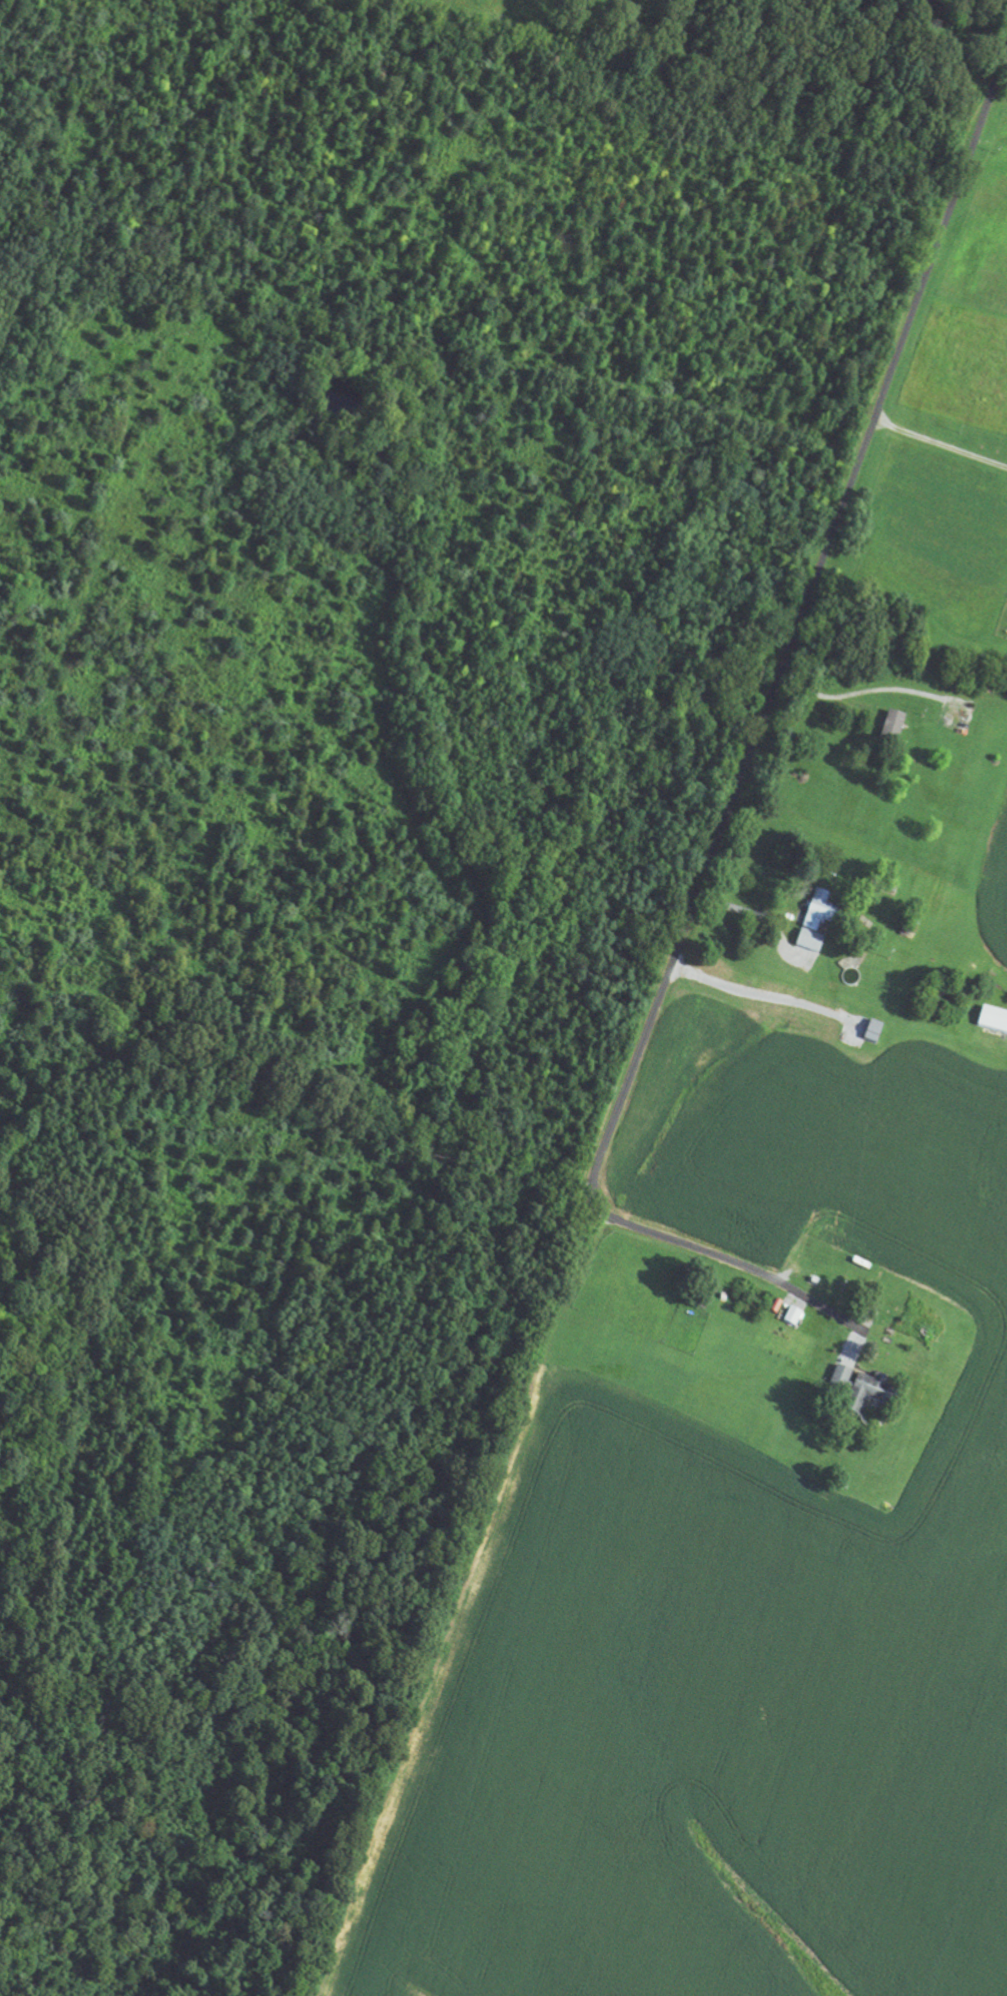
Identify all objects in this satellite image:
building: (892, 728)
road: (747, 765)
building: (815, 923)
building: (947, 1002)
building: (993, 1023)
building: (792, 1317)
building: (863, 1390)

